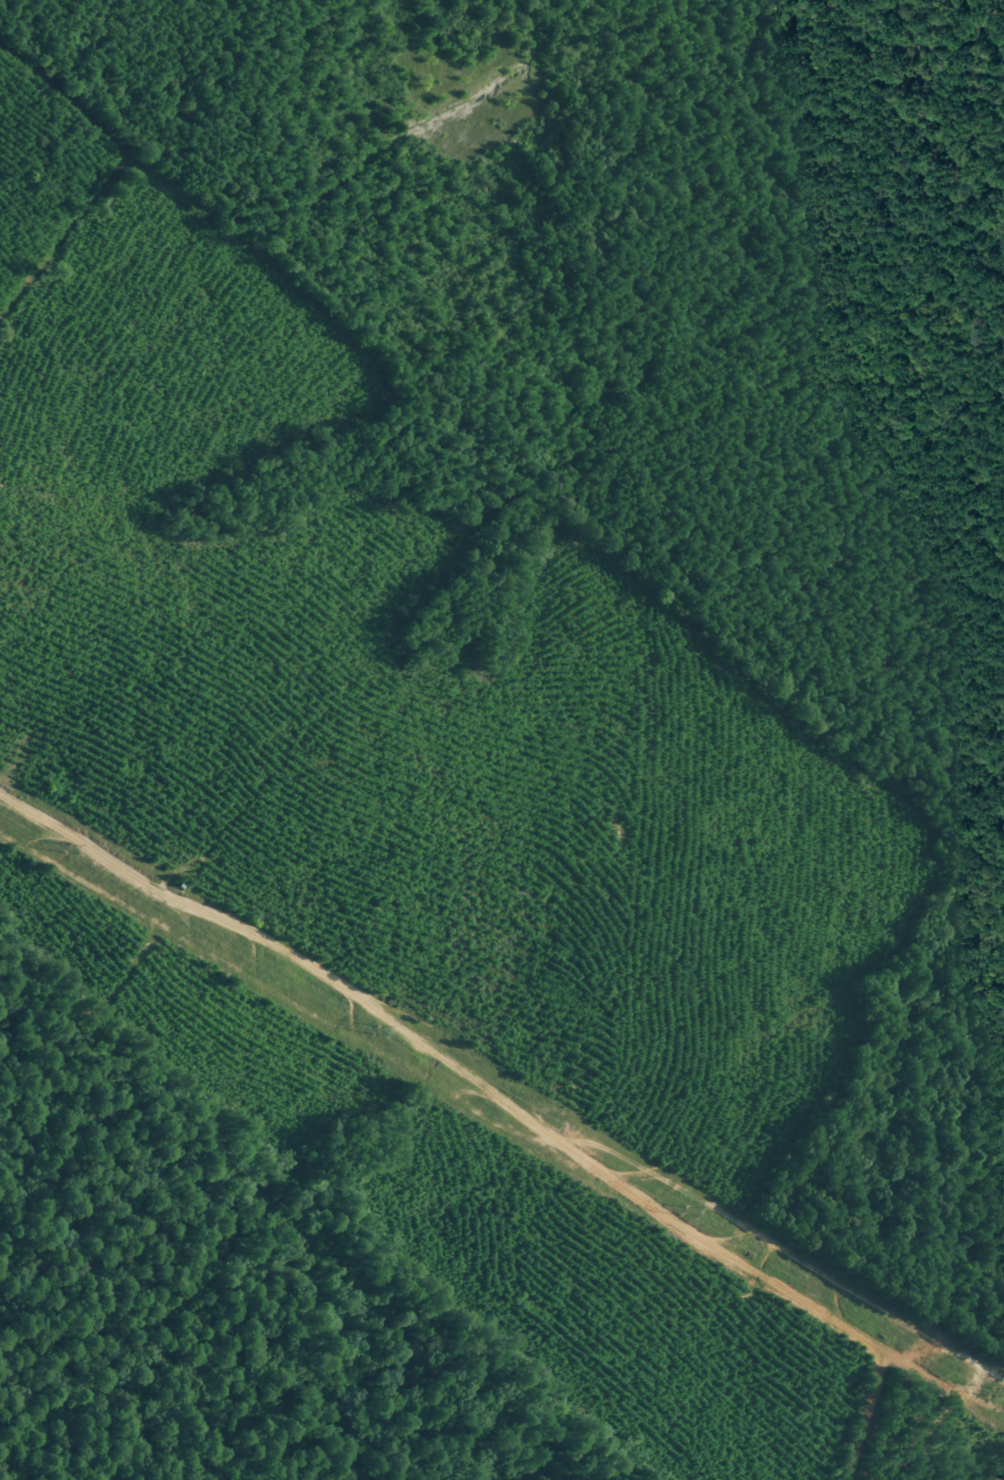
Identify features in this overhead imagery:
power tower: (67, 847)
power tower: (376, 1029)
road: (533, 1102)
power tower: (684, 1210)
power tower: (993, 1392)
road: (981, 1449)

